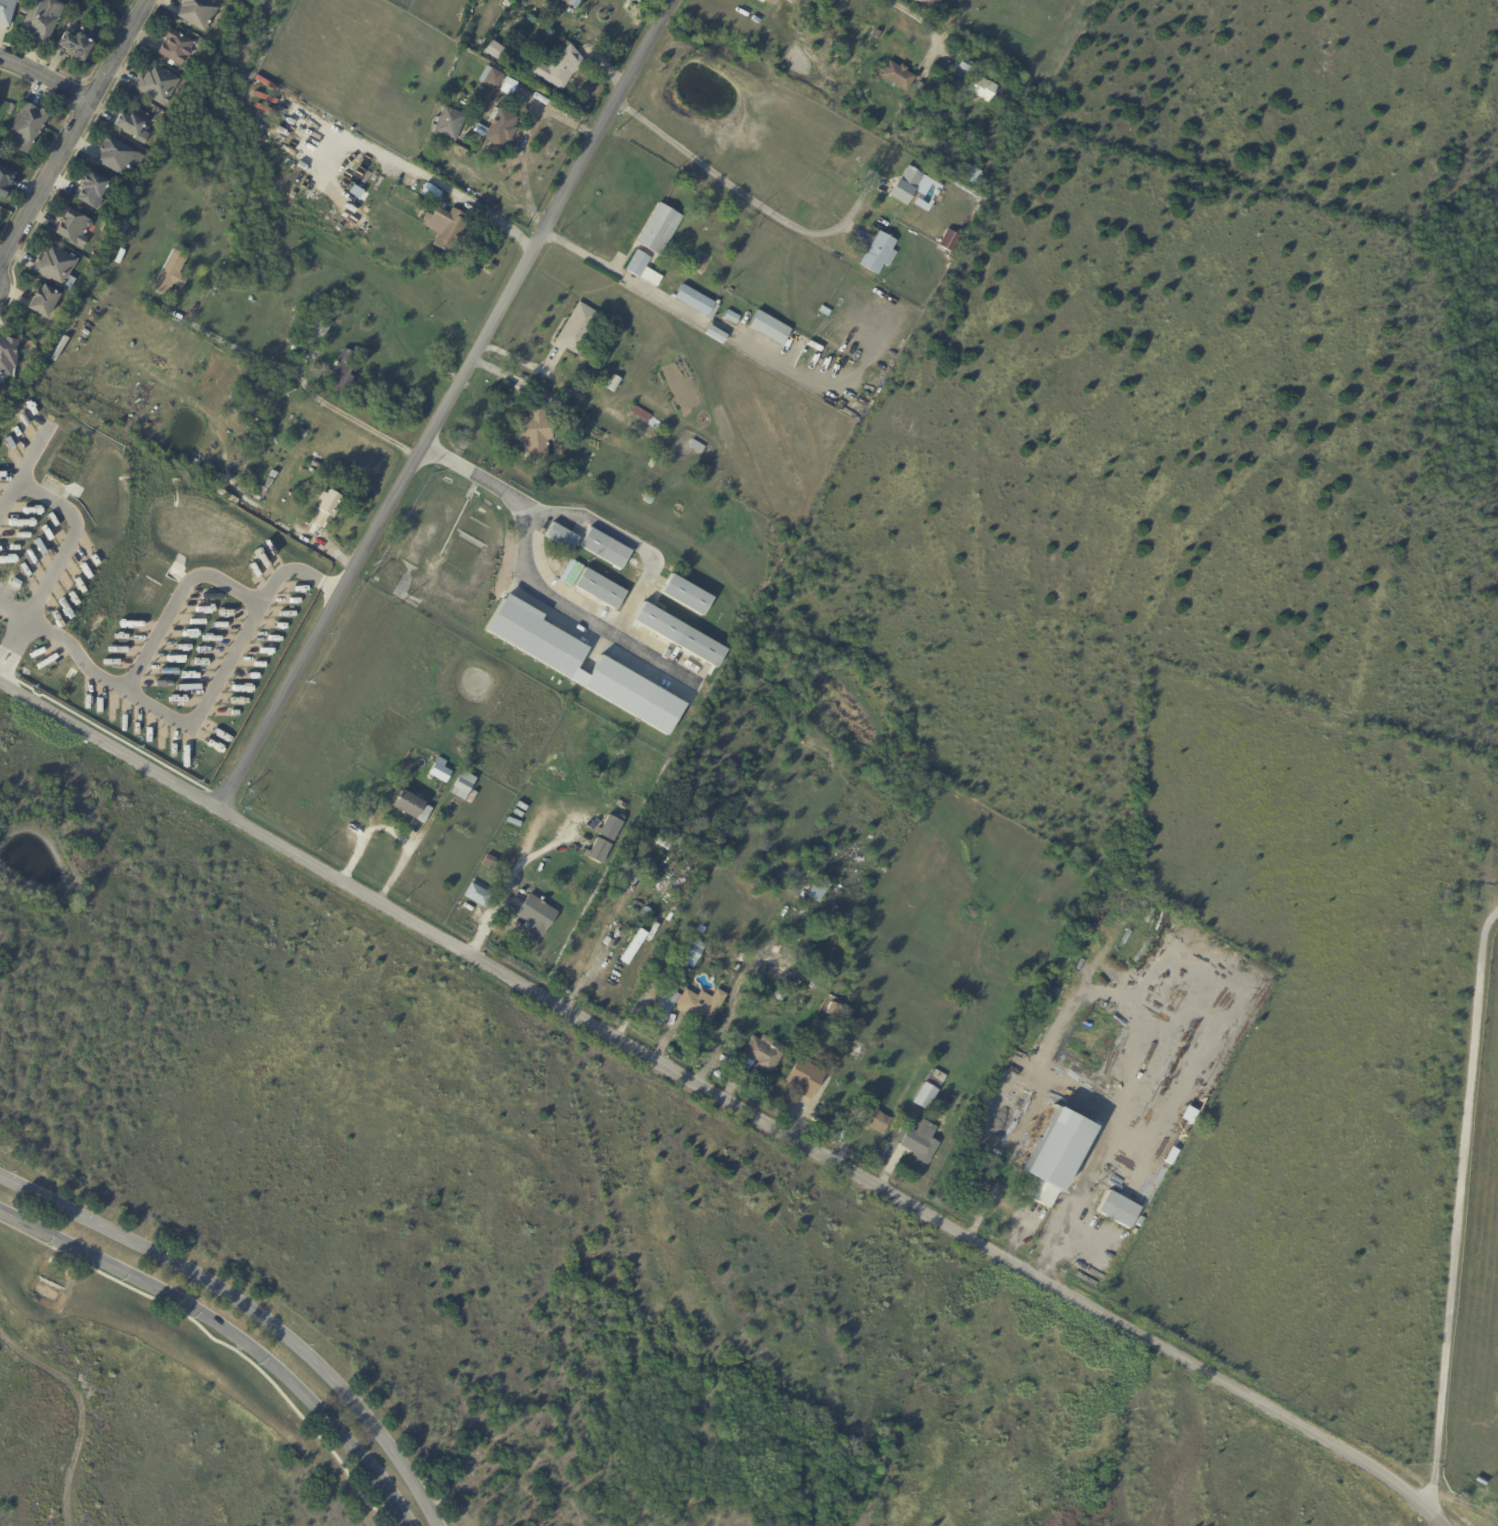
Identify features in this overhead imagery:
building: (917, 0)
building: (770, 2)
building: (789, 2)
building: (576, 4)
building: (7, 12)
building: (24, 13)
building: (199, 13)
building: (44, 18)
building: (114, 23)
road: (923, 23)
building: (875, 35)
building: (78, 47)
building: (178, 48)
building: (492, 49)
building: (566, 68)
building: (962, 70)
building: (451, 71)
building: (895, 77)
building: (498, 80)
road: (41, 81)
building: (160, 85)
building: (917, 87)
building: (985, 90)
building: (12, 110)
building: (451, 124)
building: (133, 125)
building: (29, 127)
road: (67, 128)
building: (503, 129)
building: (467, 139)
building: (1, 144)
building: (119, 157)
building: (951, 174)
road: (415, 175)
building: (970, 178)
building: (5, 181)
building: (904, 186)
building: (93, 190)
building: (125, 191)
building: (438, 197)
road: (746, 197)
building: (976, 201)
building: (74, 228)
building: (123, 230)
building: (451, 230)
building: (662, 230)
building: (949, 242)
building: (880, 254)
building: (640, 265)
building: (58, 269)
building: (171, 275)
road: (619, 275)
building: (46, 303)
building: (699, 303)
building: (335, 311)
building: (827, 312)
building: (734, 318)
building: (32, 320)
building: (330, 322)
building: (319, 327)
building: (580, 328)
building: (770, 328)
building: (718, 336)
building: (60, 349)
building: (8, 357)
building: (342, 372)
road: (299, 376)
building: (285, 379)
building: (614, 384)
road: (560, 385)
road: (445, 404)
building: (258, 411)
building: (641, 413)
building: (538, 432)
building: (697, 446)
road: (32, 454)
building: (654, 465)
building: (270, 483)
building: (263, 491)
building: (648, 499)
building: (329, 503)
building: (314, 525)
building: (562, 536)
road: (70, 539)
road: (629, 540)
building: (606, 548)
road: (291, 570)
road: (527, 578)
building: (14, 582)
building: (600, 589)
building: (687, 595)
road: (14, 607)
building: (680, 635)
road: (12, 651)
building: (560, 661)
road: (227, 663)
building: (461, 768)
building: (441, 771)
building: (464, 785)
building: (455, 805)
building: (412, 806)
building: (608, 827)
road: (391, 831)
building: (662, 845)
building: (596, 849)
building: (622, 869)
road: (507, 884)
building: (817, 891)
building: (474, 896)
building: (645, 912)
building: (534, 915)
building: (632, 946)
building: (692, 952)
building: (741, 958)
building: (735, 968)
building: (780, 995)
building: (686, 1006)
building: (827, 1007)
building: (761, 1055)
building: (803, 1078)
building: (921, 1097)
road: (723, 1098)
building: (871, 1120)
building: (918, 1142)
building: (1048, 1153)
building: (1113, 1207)
road: (1456, 1208)
road: (253, 1309)
road: (230, 1334)
building: (1479, 1480)

